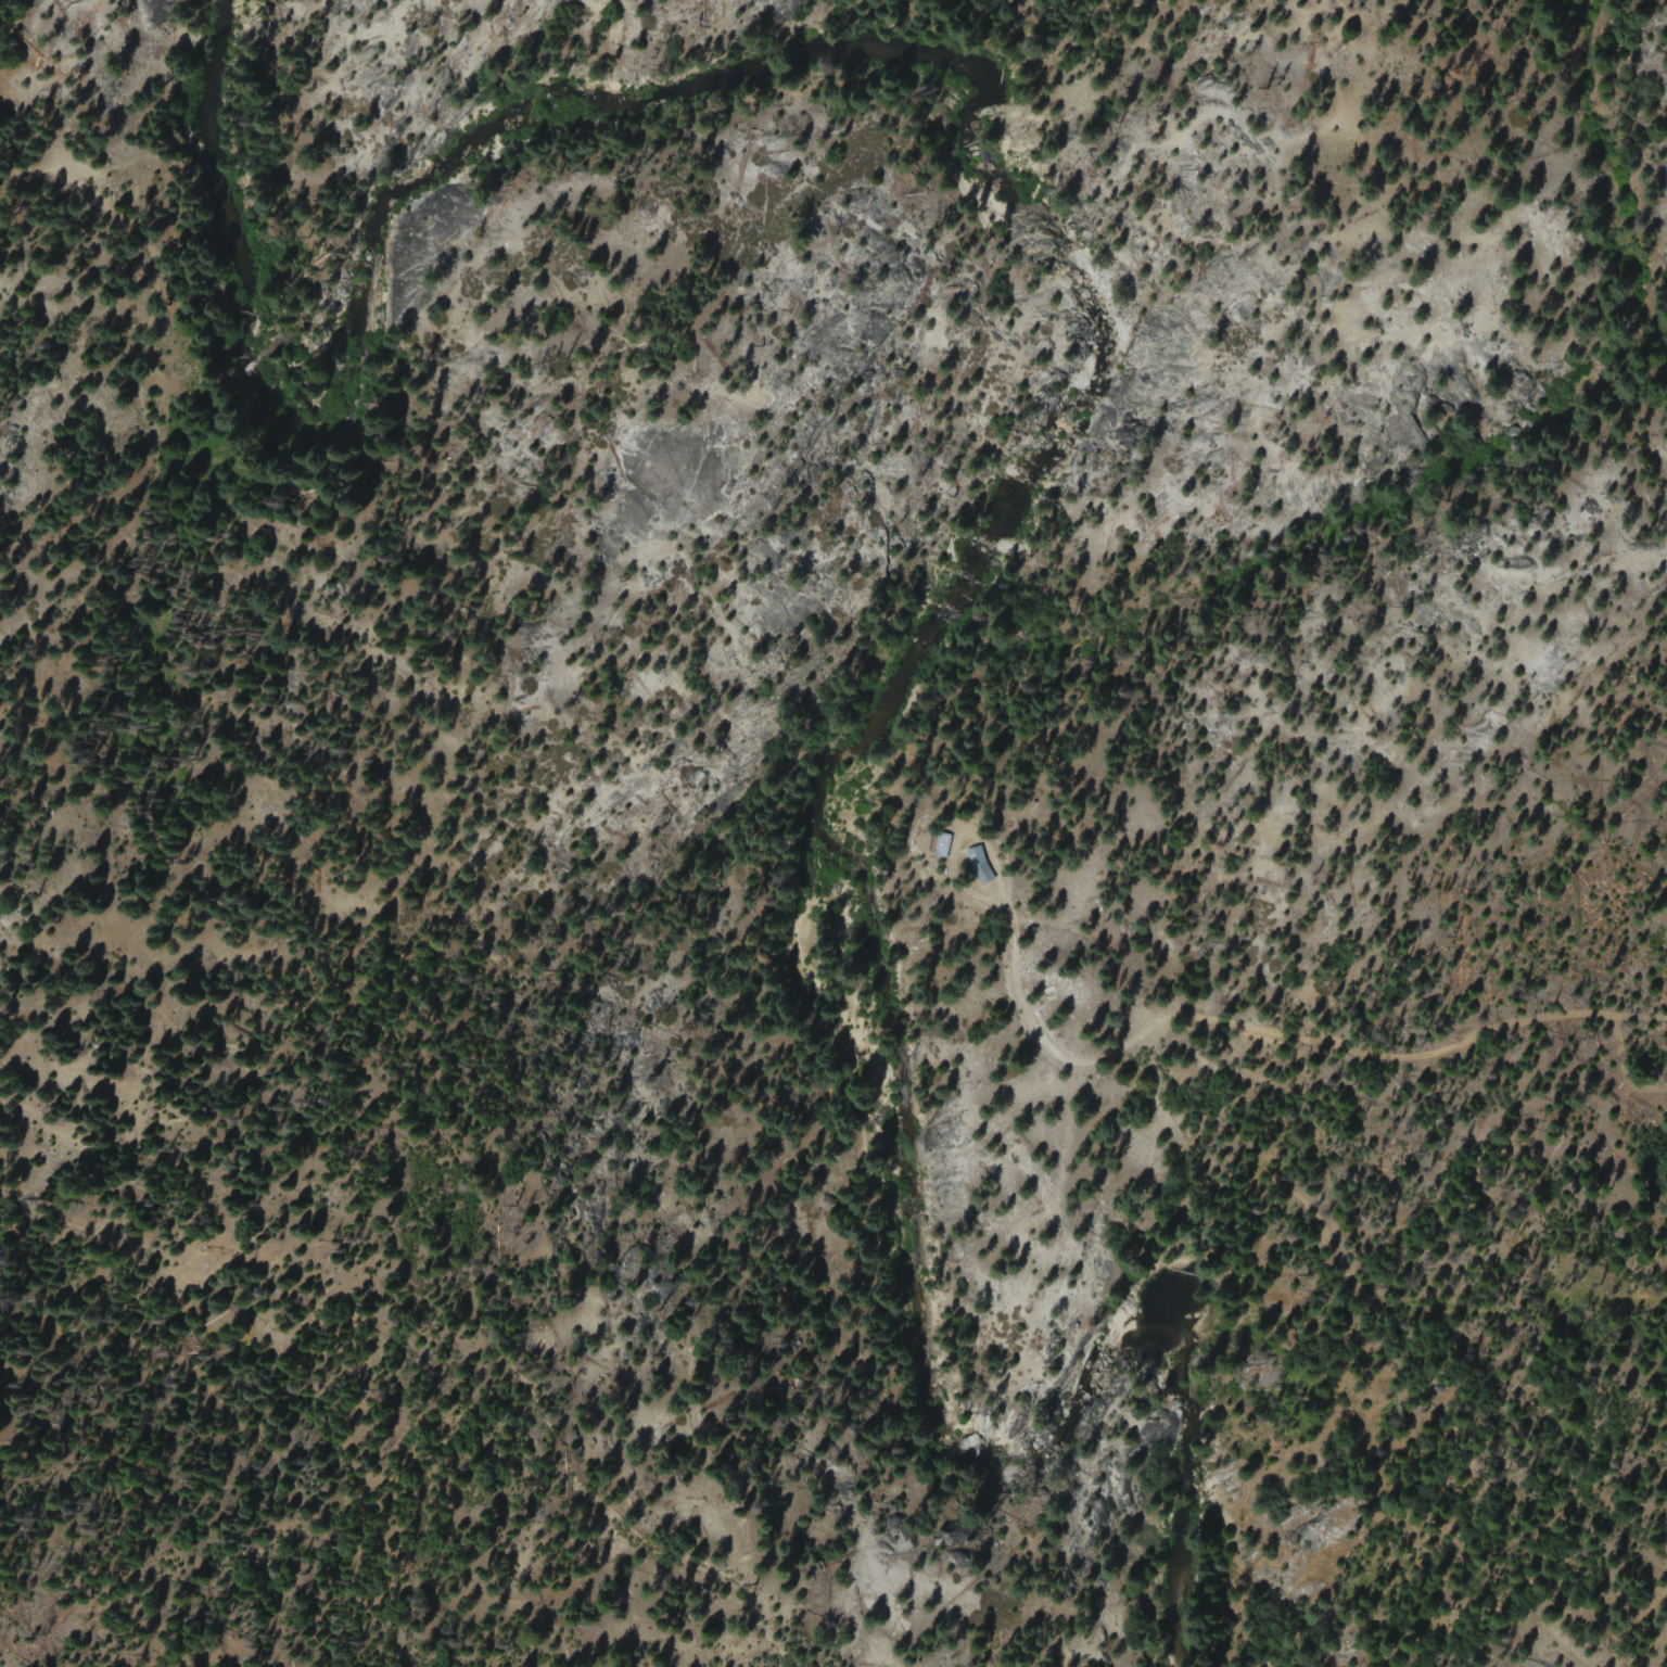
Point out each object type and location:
building: (943, 842)
building: (980, 864)

